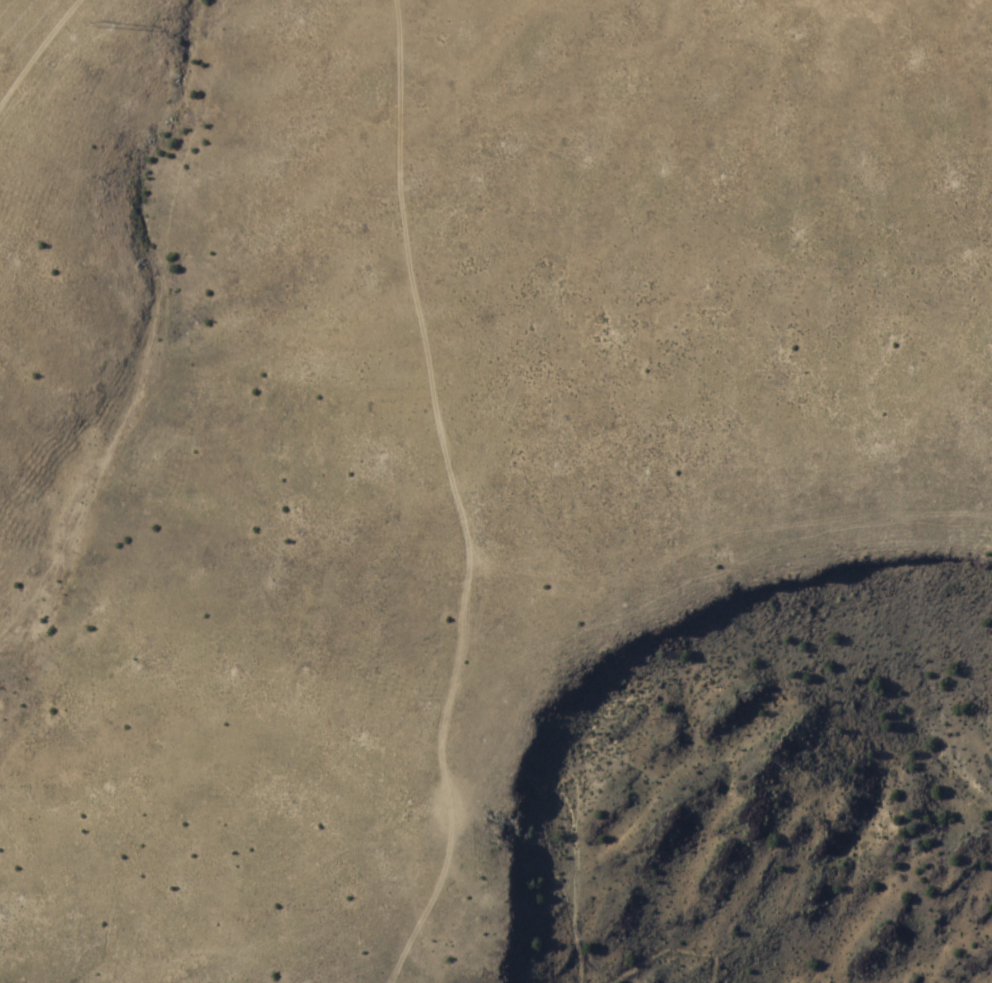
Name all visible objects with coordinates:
road: (6, 7)
road: (38, 50)
road: (461, 496)
road: (571, 799)
road: (665, 952)

